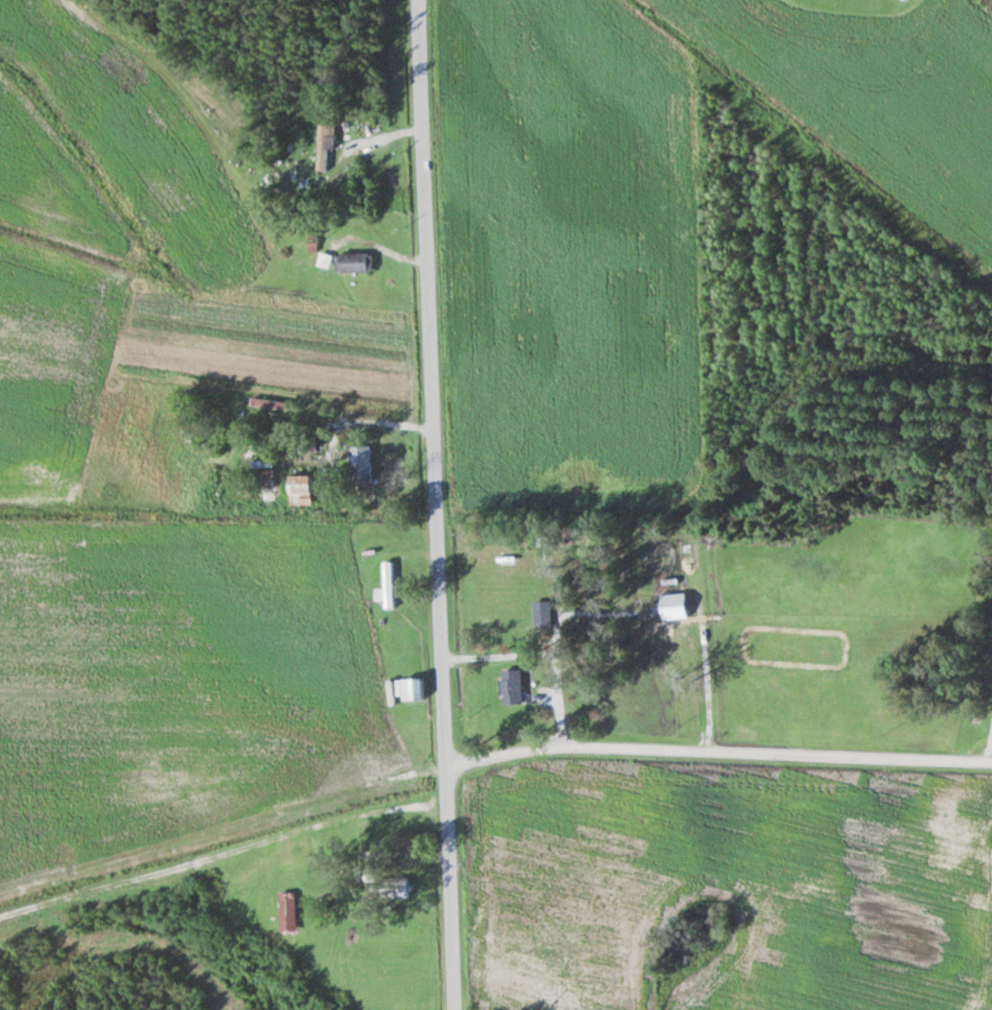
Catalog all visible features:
building: (324, 144)
building: (354, 263)
building: (270, 404)
building: (360, 466)
building: (300, 491)
road: (444, 504)
building: (542, 614)
building: (511, 686)
building: (411, 688)
road: (722, 753)
building: (358, 825)
building: (298, 851)
building: (399, 886)
building: (287, 911)

